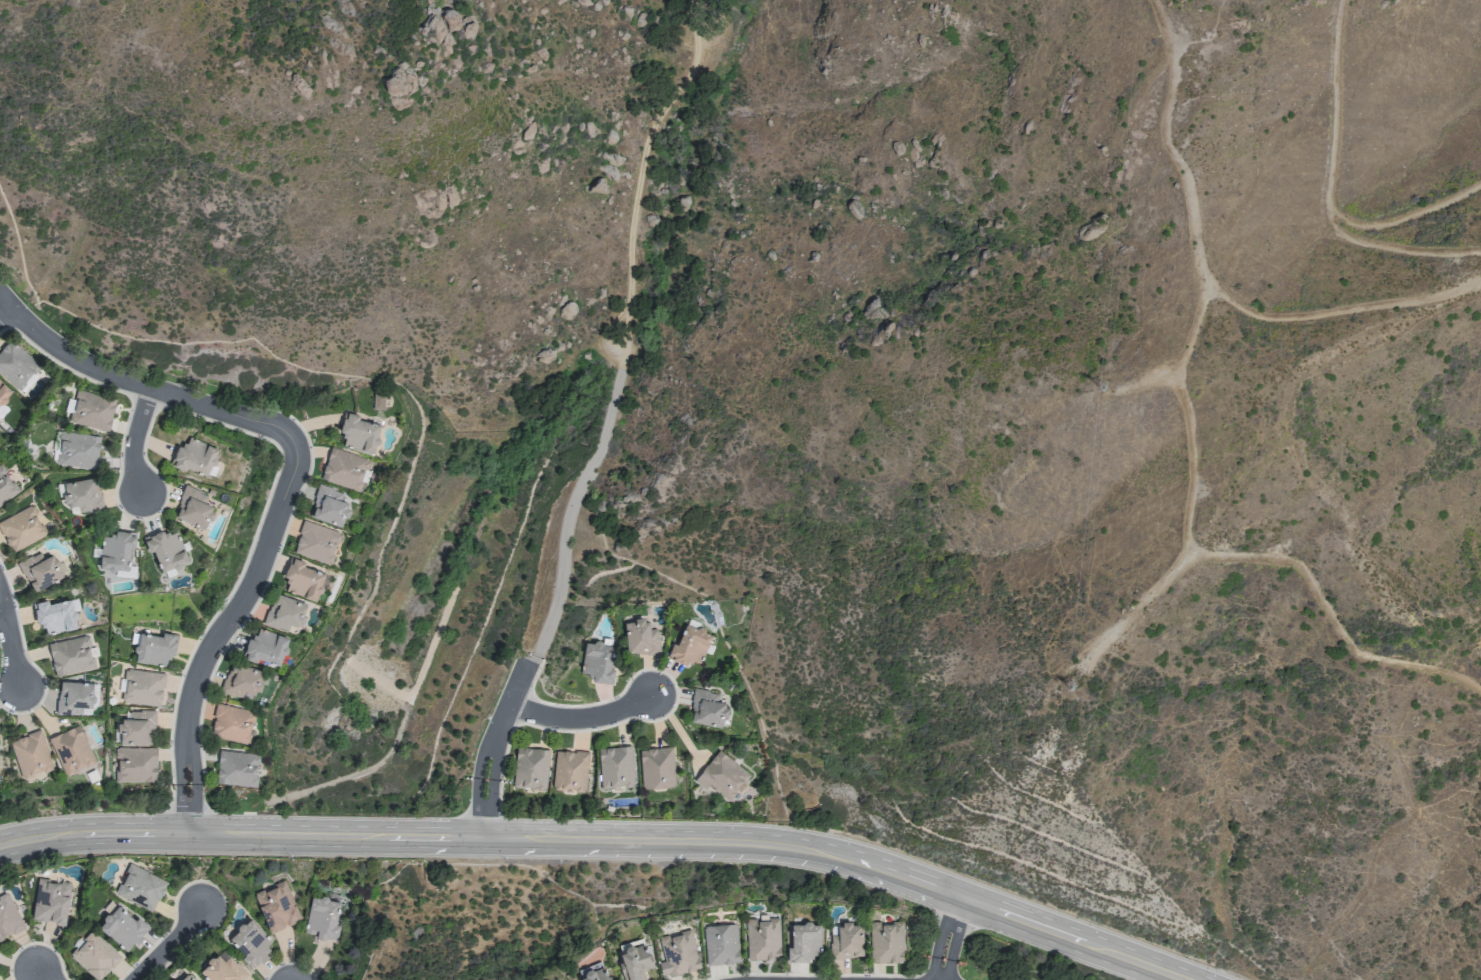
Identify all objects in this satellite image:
road: (640, 178)
road: (1329, 187)
road: (1394, 250)
road: (1209, 278)
road: (5, 299)
road: (5, 311)
building: (15, 365)
power tower: (1097, 384)
road: (1145, 384)
road: (146, 386)
building: (3, 397)
building: (378, 401)
building: (92, 411)
building: (358, 433)
road: (134, 440)
building: (76, 450)
building: (194, 456)
building: (344, 469)
building: (6, 487)
building: (79, 494)
building: (329, 506)
building: (195, 508)
road: (566, 513)
building: (21, 529)
building: (316, 542)
building: (166, 548)
building: (117, 552)
road: (1222, 557)
building: (40, 571)
building: (302, 580)
building: (285, 612)
road: (1136, 612)
building: (54, 616)
road: (233, 630)
building: (641, 637)
building: (689, 645)
building: (266, 646)
building: (154, 648)
road: (9, 653)
building: (70, 656)
building: (597, 662)
road: (512, 679)
building: (241, 680)
power tower: (1068, 684)
building: (141, 687)
building: (74, 698)
building: (707, 708)
road: (551, 719)
building: (232, 723)
building: (71, 749)
building: (30, 753)
road: (480, 760)
building: (135, 764)
building: (530, 767)
building: (615, 767)
building: (656, 767)
building: (236, 768)
building: (570, 770)
building: (722, 775)
road: (492, 788)
road: (475, 802)
road: (239, 826)
road: (615, 828)
road: (194, 836)
road: (478, 838)
road: (594, 849)
building: (140, 887)
road: (988, 894)
building: (50, 901)
building: (277, 907)
building: (8, 916)
building: (322, 918)
road: (952, 920)
building: (122, 927)
building: (762, 939)
building: (846, 939)
building: (804, 941)
building: (250, 942)
building: (886, 942)
road: (166, 943)
building: (720, 943)
building: (678, 954)
building: (94, 955)
building: (633, 959)
building: (118, 968)
road: (939, 968)
building: (222, 969)
building: (593, 972)
road: (44, 974)
building: (185, 976)

